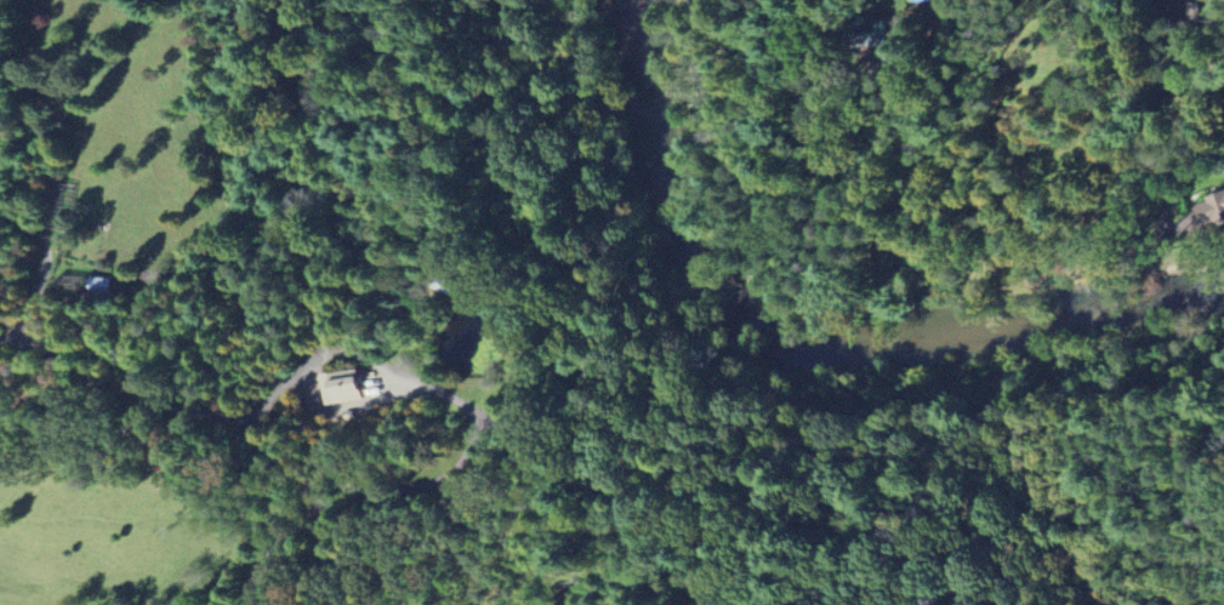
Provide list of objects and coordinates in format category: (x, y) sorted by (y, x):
building: (881, 33)
building: (1213, 209)
building: (103, 285)
river: (804, 342)
building: (343, 387)
road: (279, 462)
road: (660, 525)

